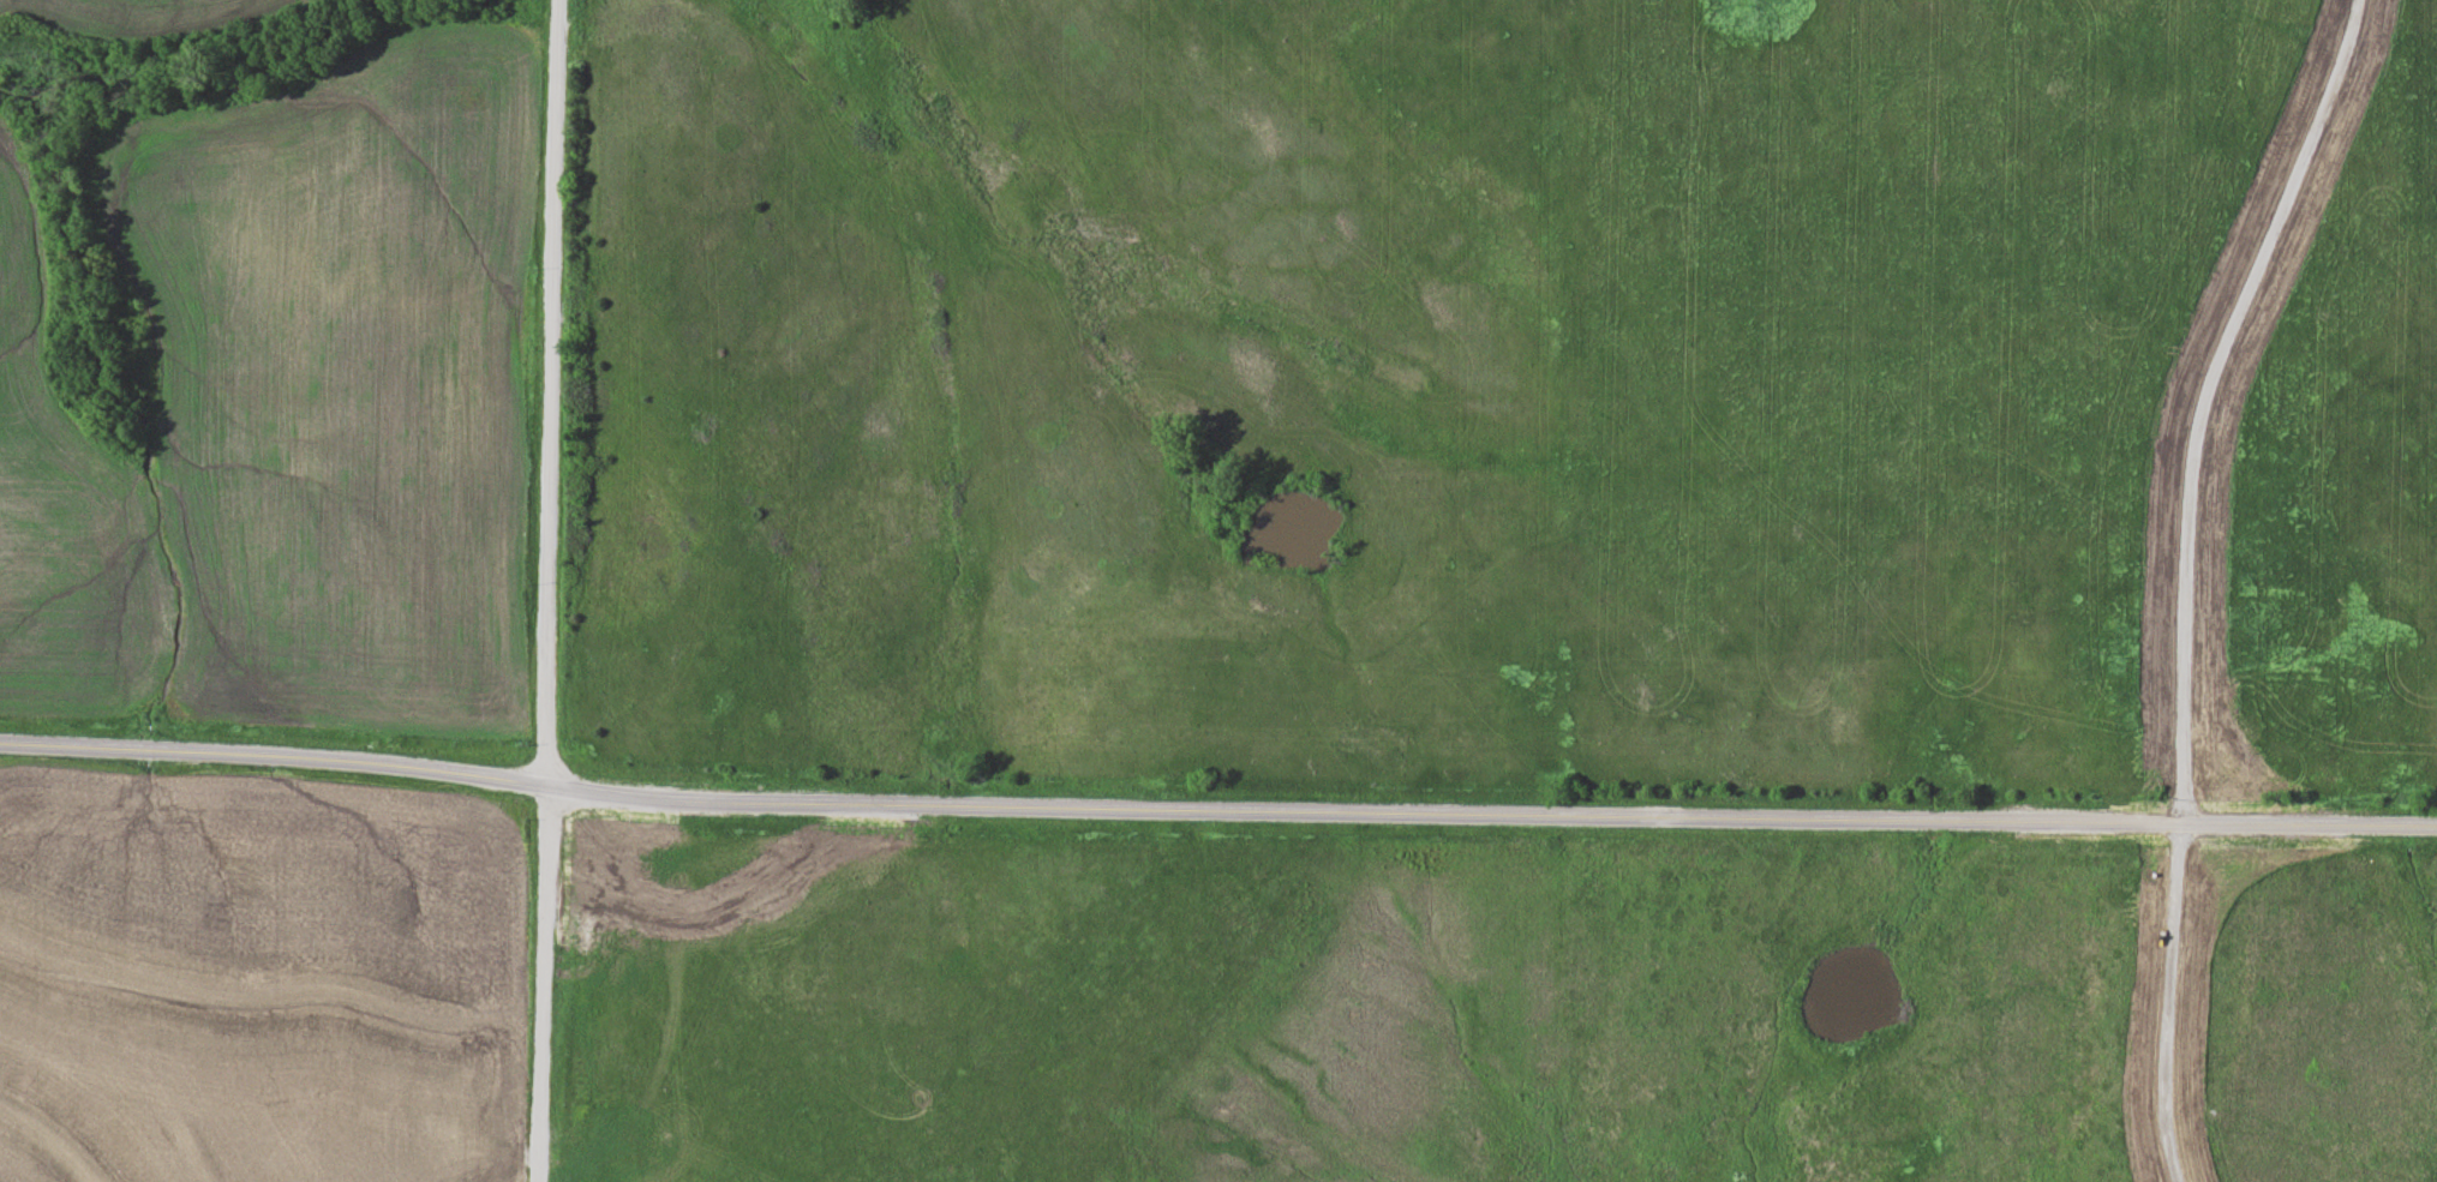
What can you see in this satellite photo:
road: (549, 590)
road: (1216, 809)
building: (586, 940)

